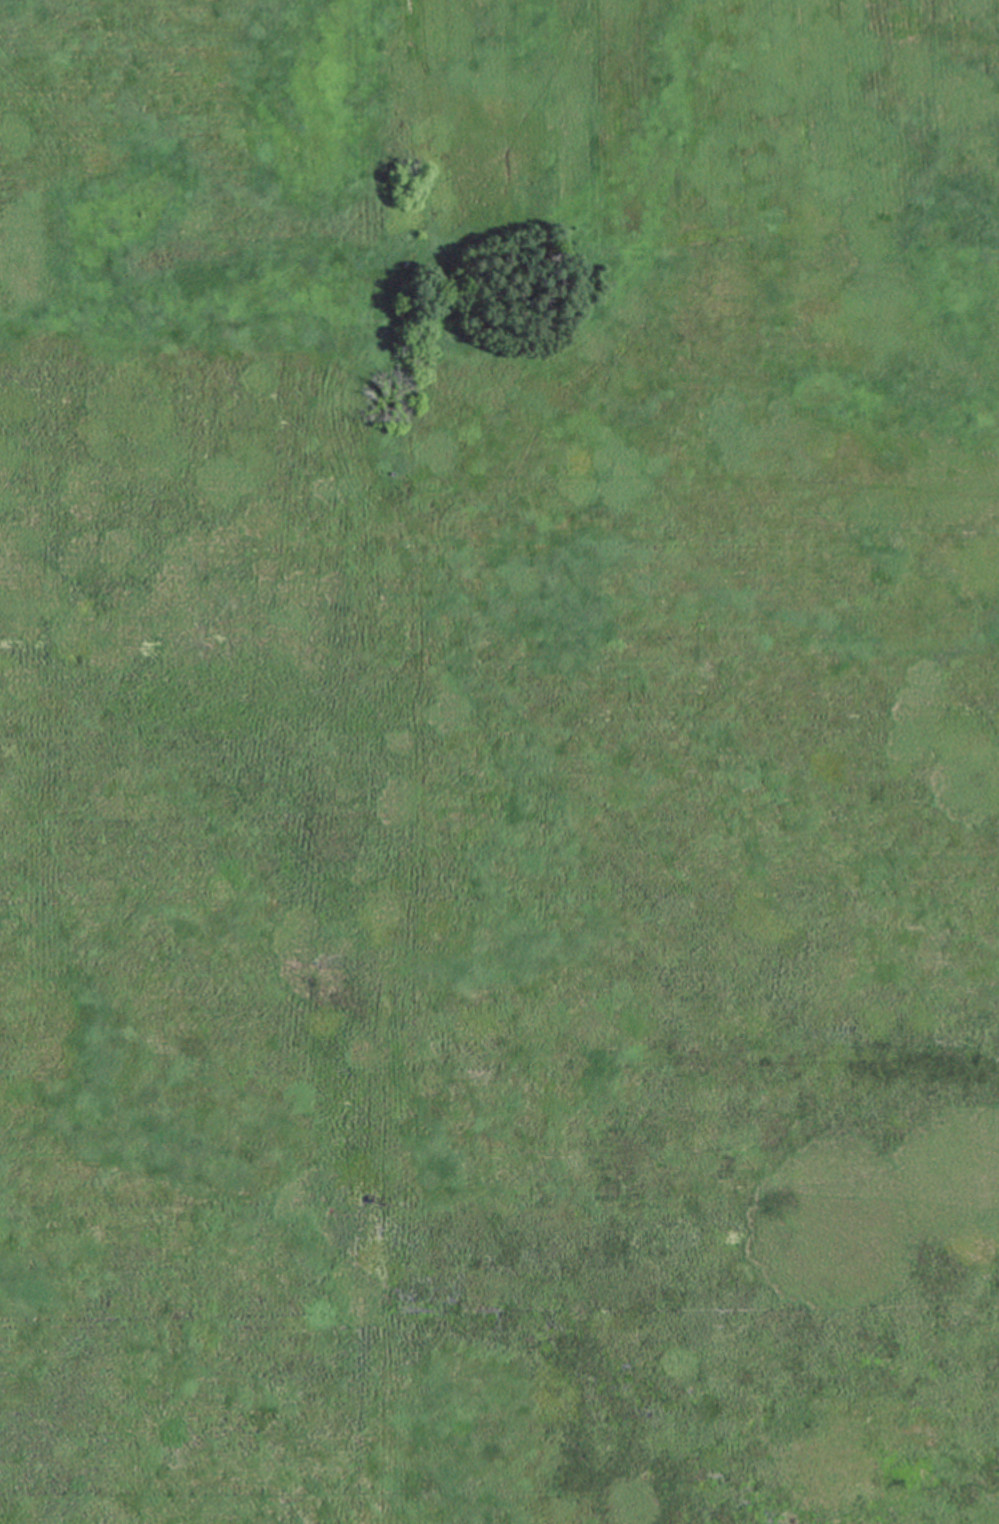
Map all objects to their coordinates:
building: (405, 264)
building: (393, 472)

